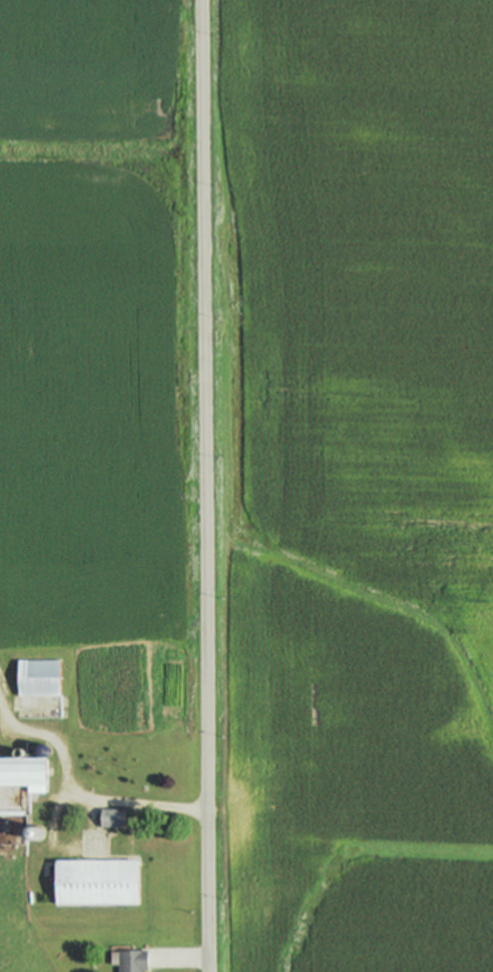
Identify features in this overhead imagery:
road: (204, 485)
building: (36, 677)
building: (23, 772)
road: (78, 798)
building: (111, 818)
building: (95, 881)
road: (178, 957)
building: (128, 959)

